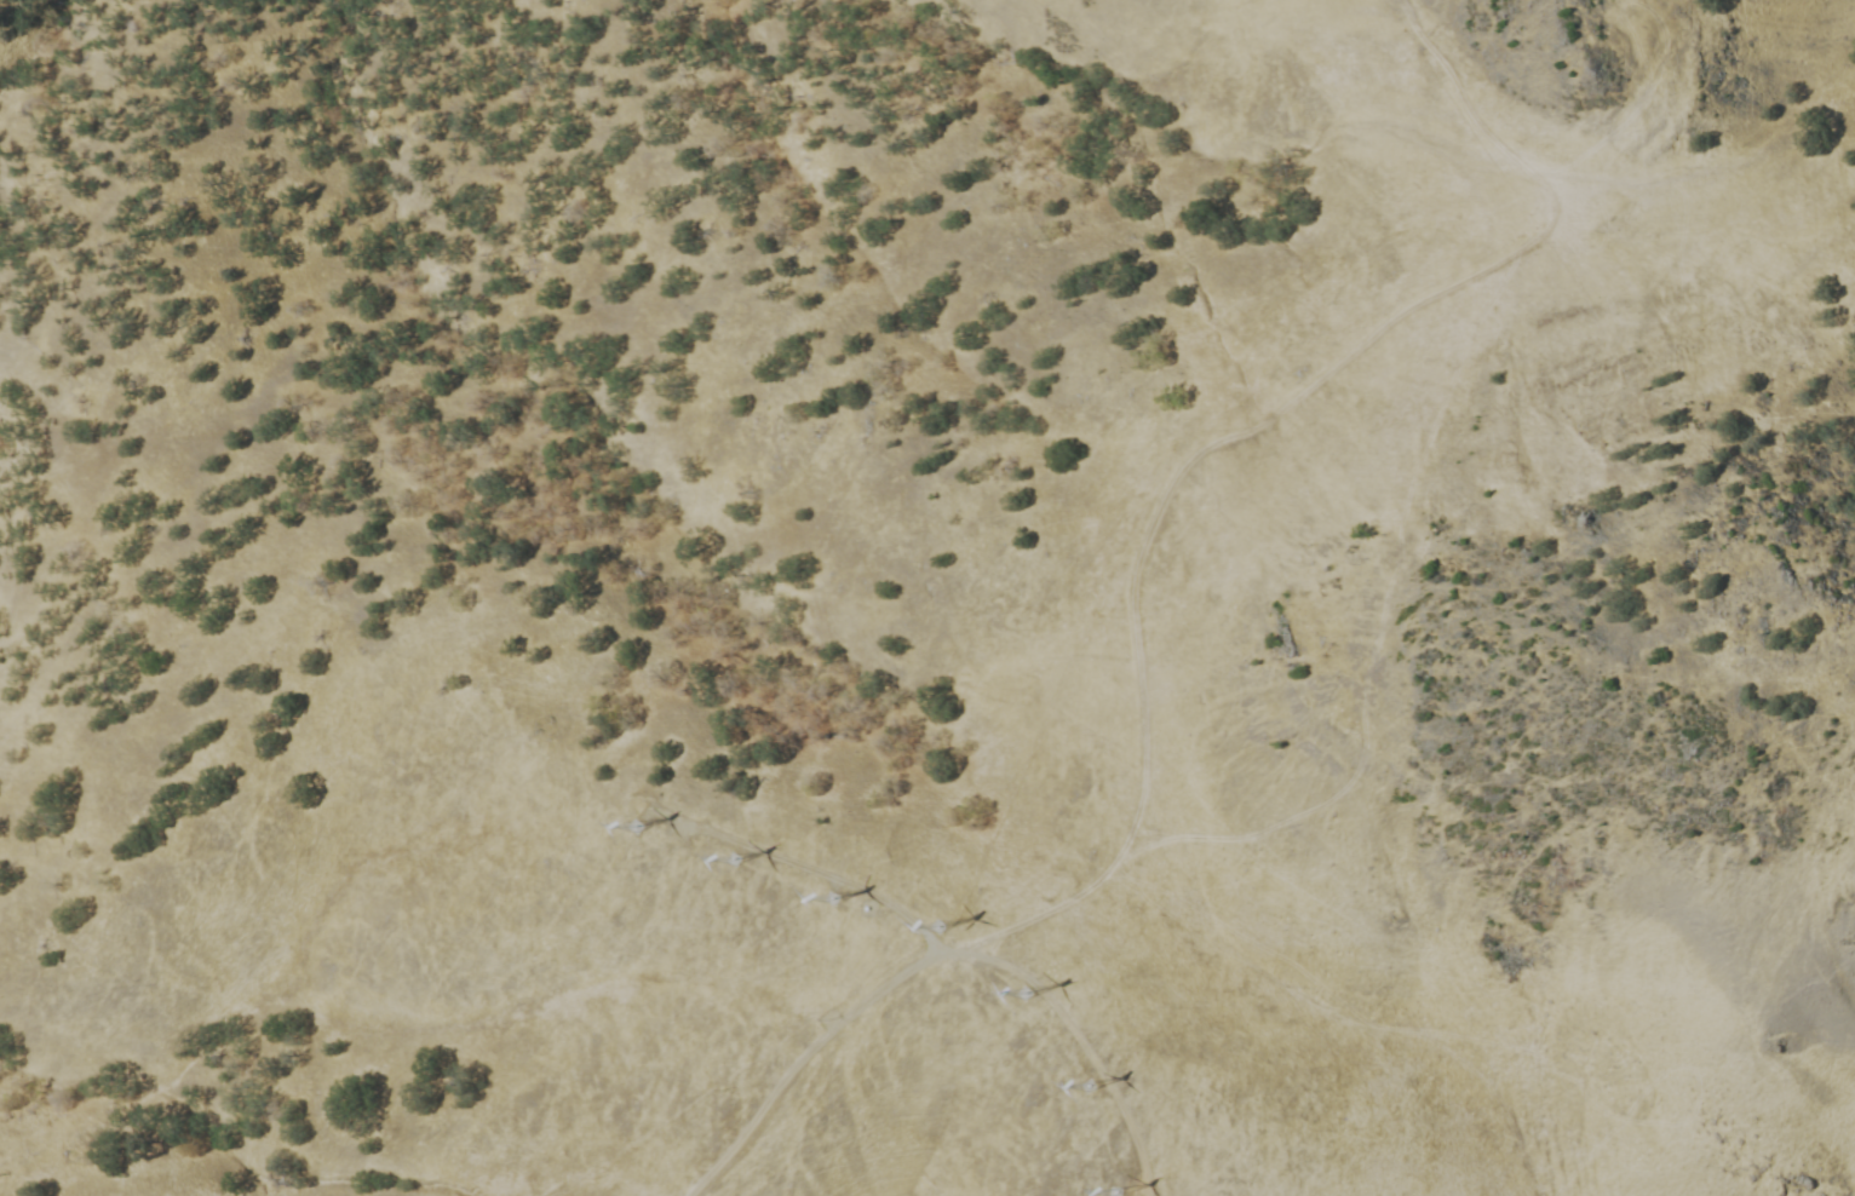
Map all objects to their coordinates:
road: (1231, 432)
wind turbine: (627, 828)
wind turbine: (731, 859)
wind turbine: (831, 898)
wind turbine: (935, 925)
road: (930, 955)
wind turbine: (1022, 994)
road: (1080, 1039)
wind turbine: (1086, 1087)
wind turbine: (1114, 1192)

